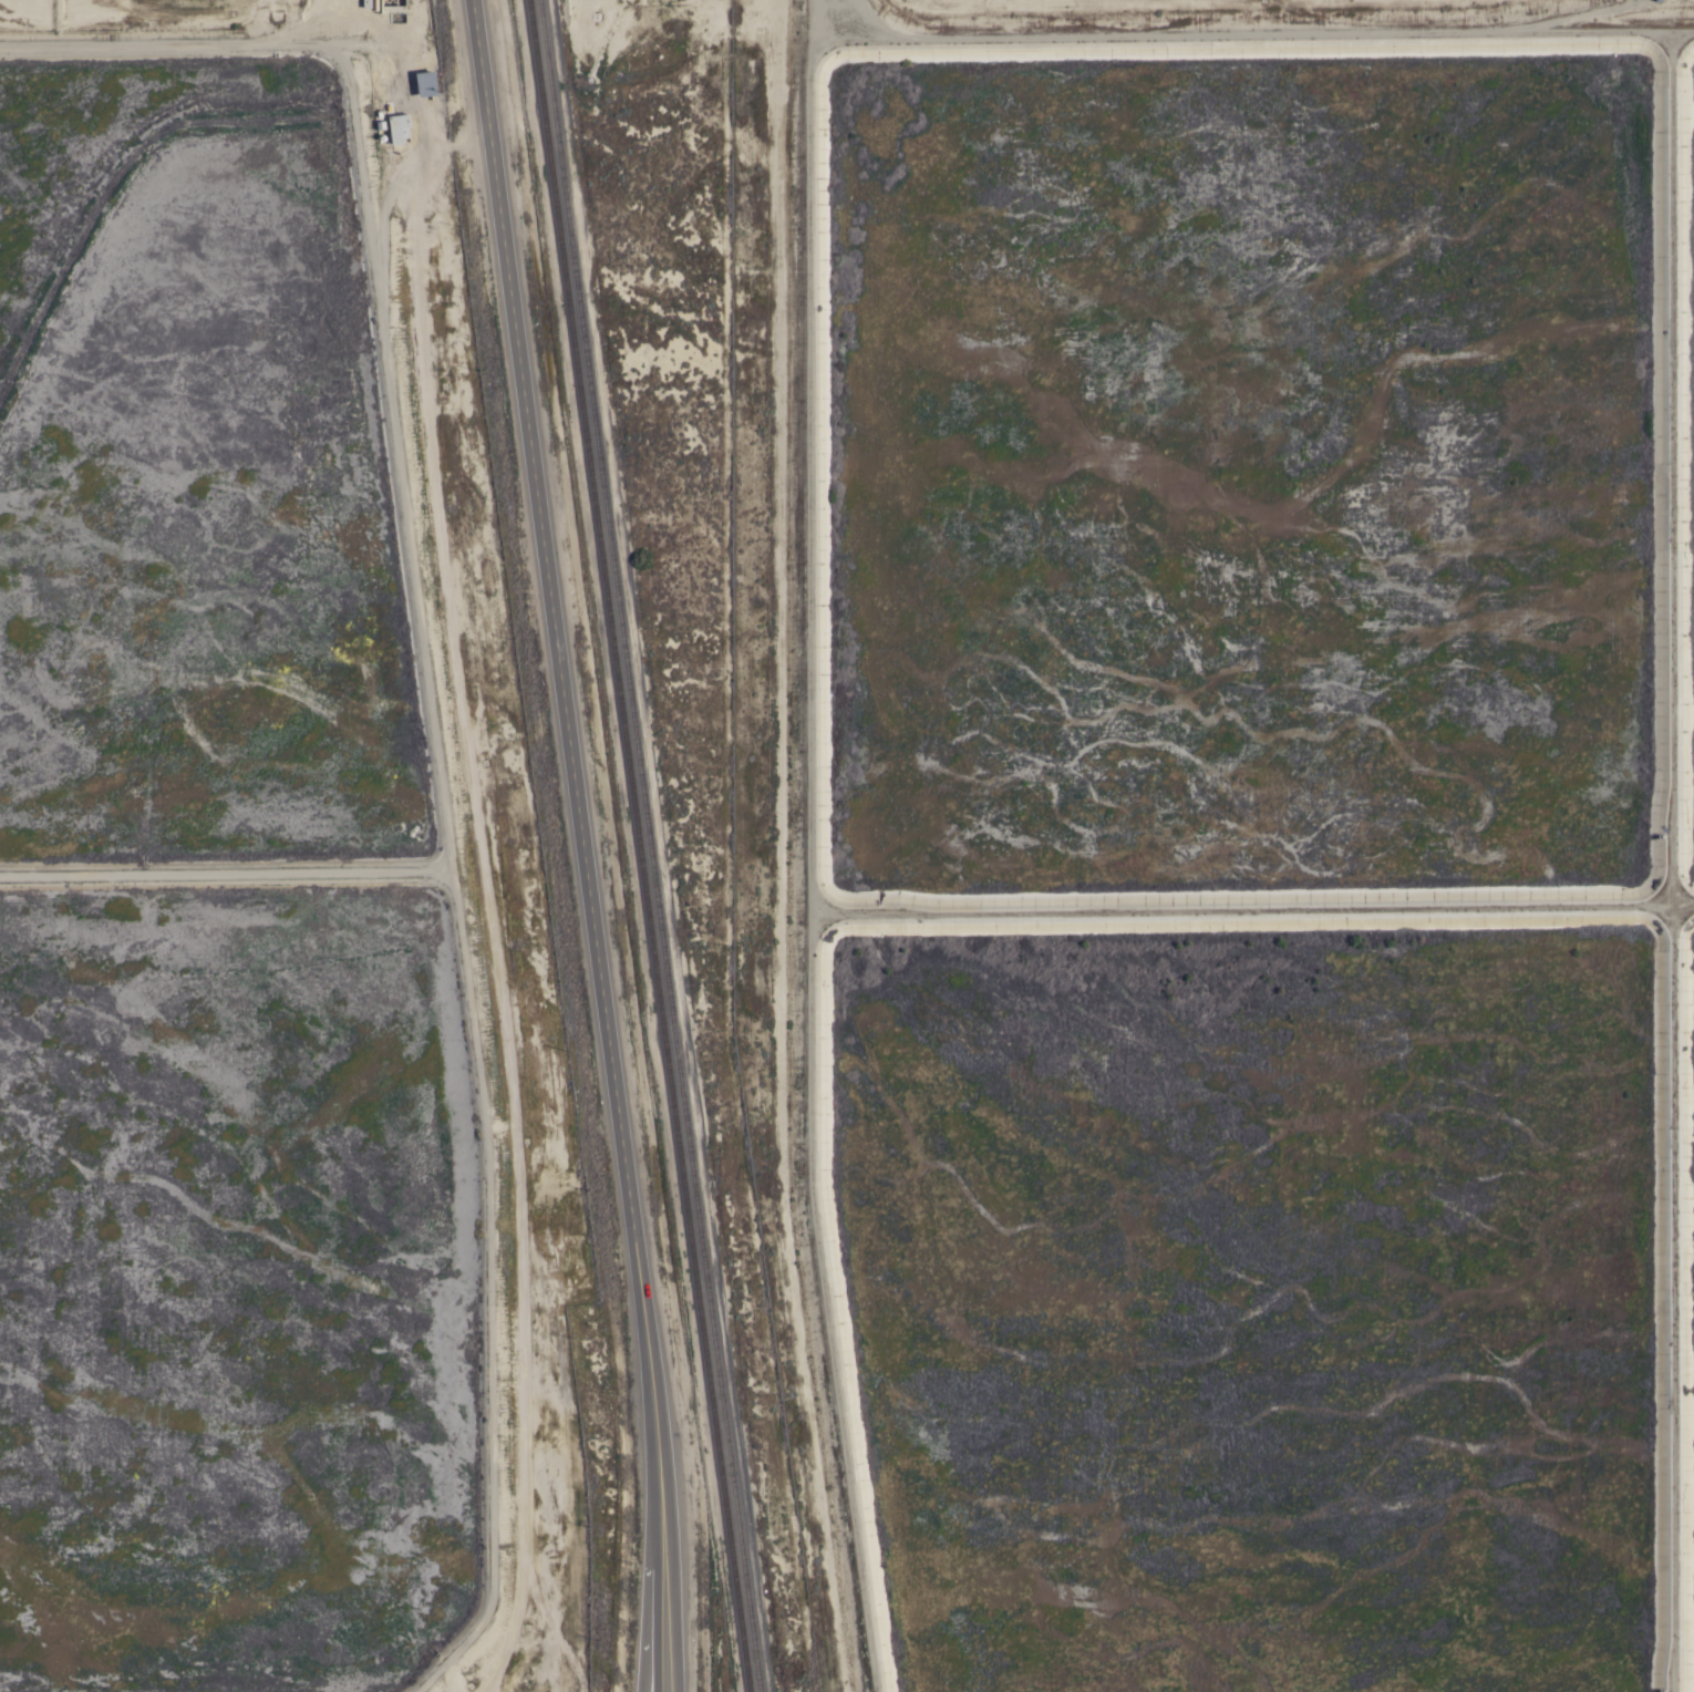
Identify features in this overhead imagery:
building: (427, 83)
building: (400, 127)
wastewater plant: (178, 472)
road: (582, 845)
road: (804, 845)
railway: (638, 846)
railway: (649, 846)
wastewater plant: (268, 899)
wastewater plant: (223, 1296)
road: (648, 1586)

